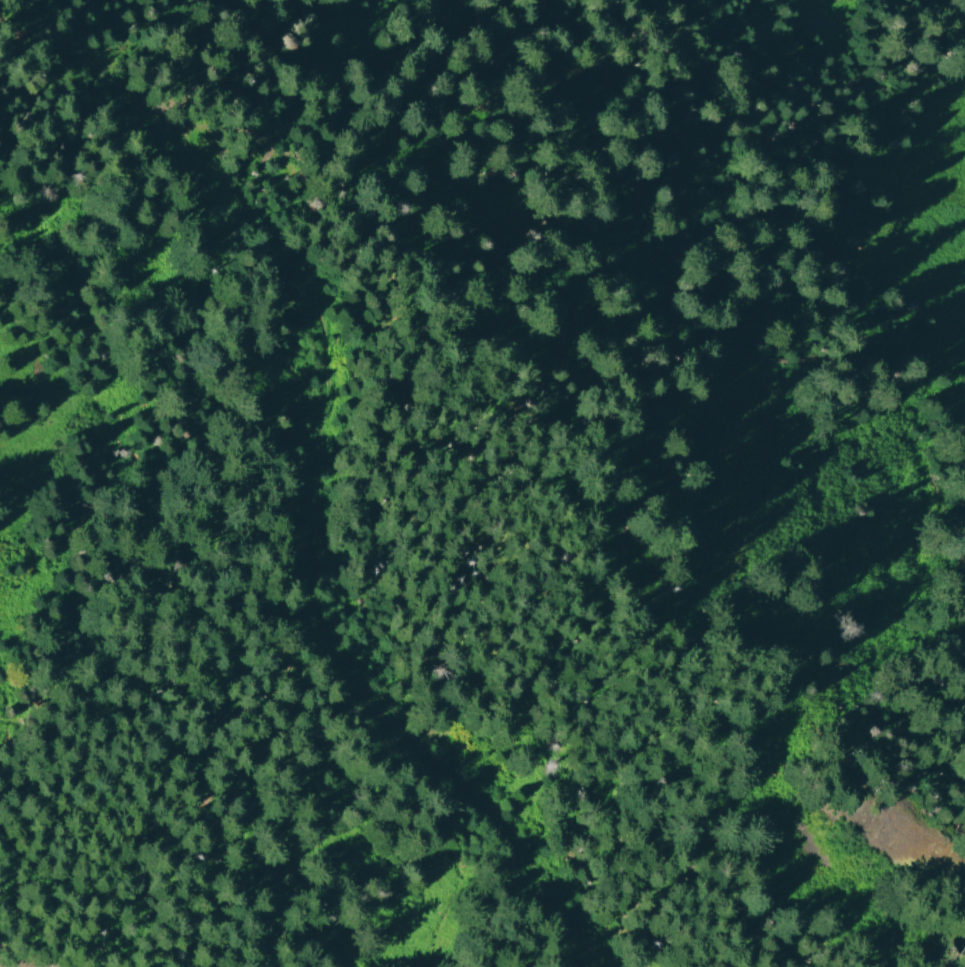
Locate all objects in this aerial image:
road: (334, 465)

